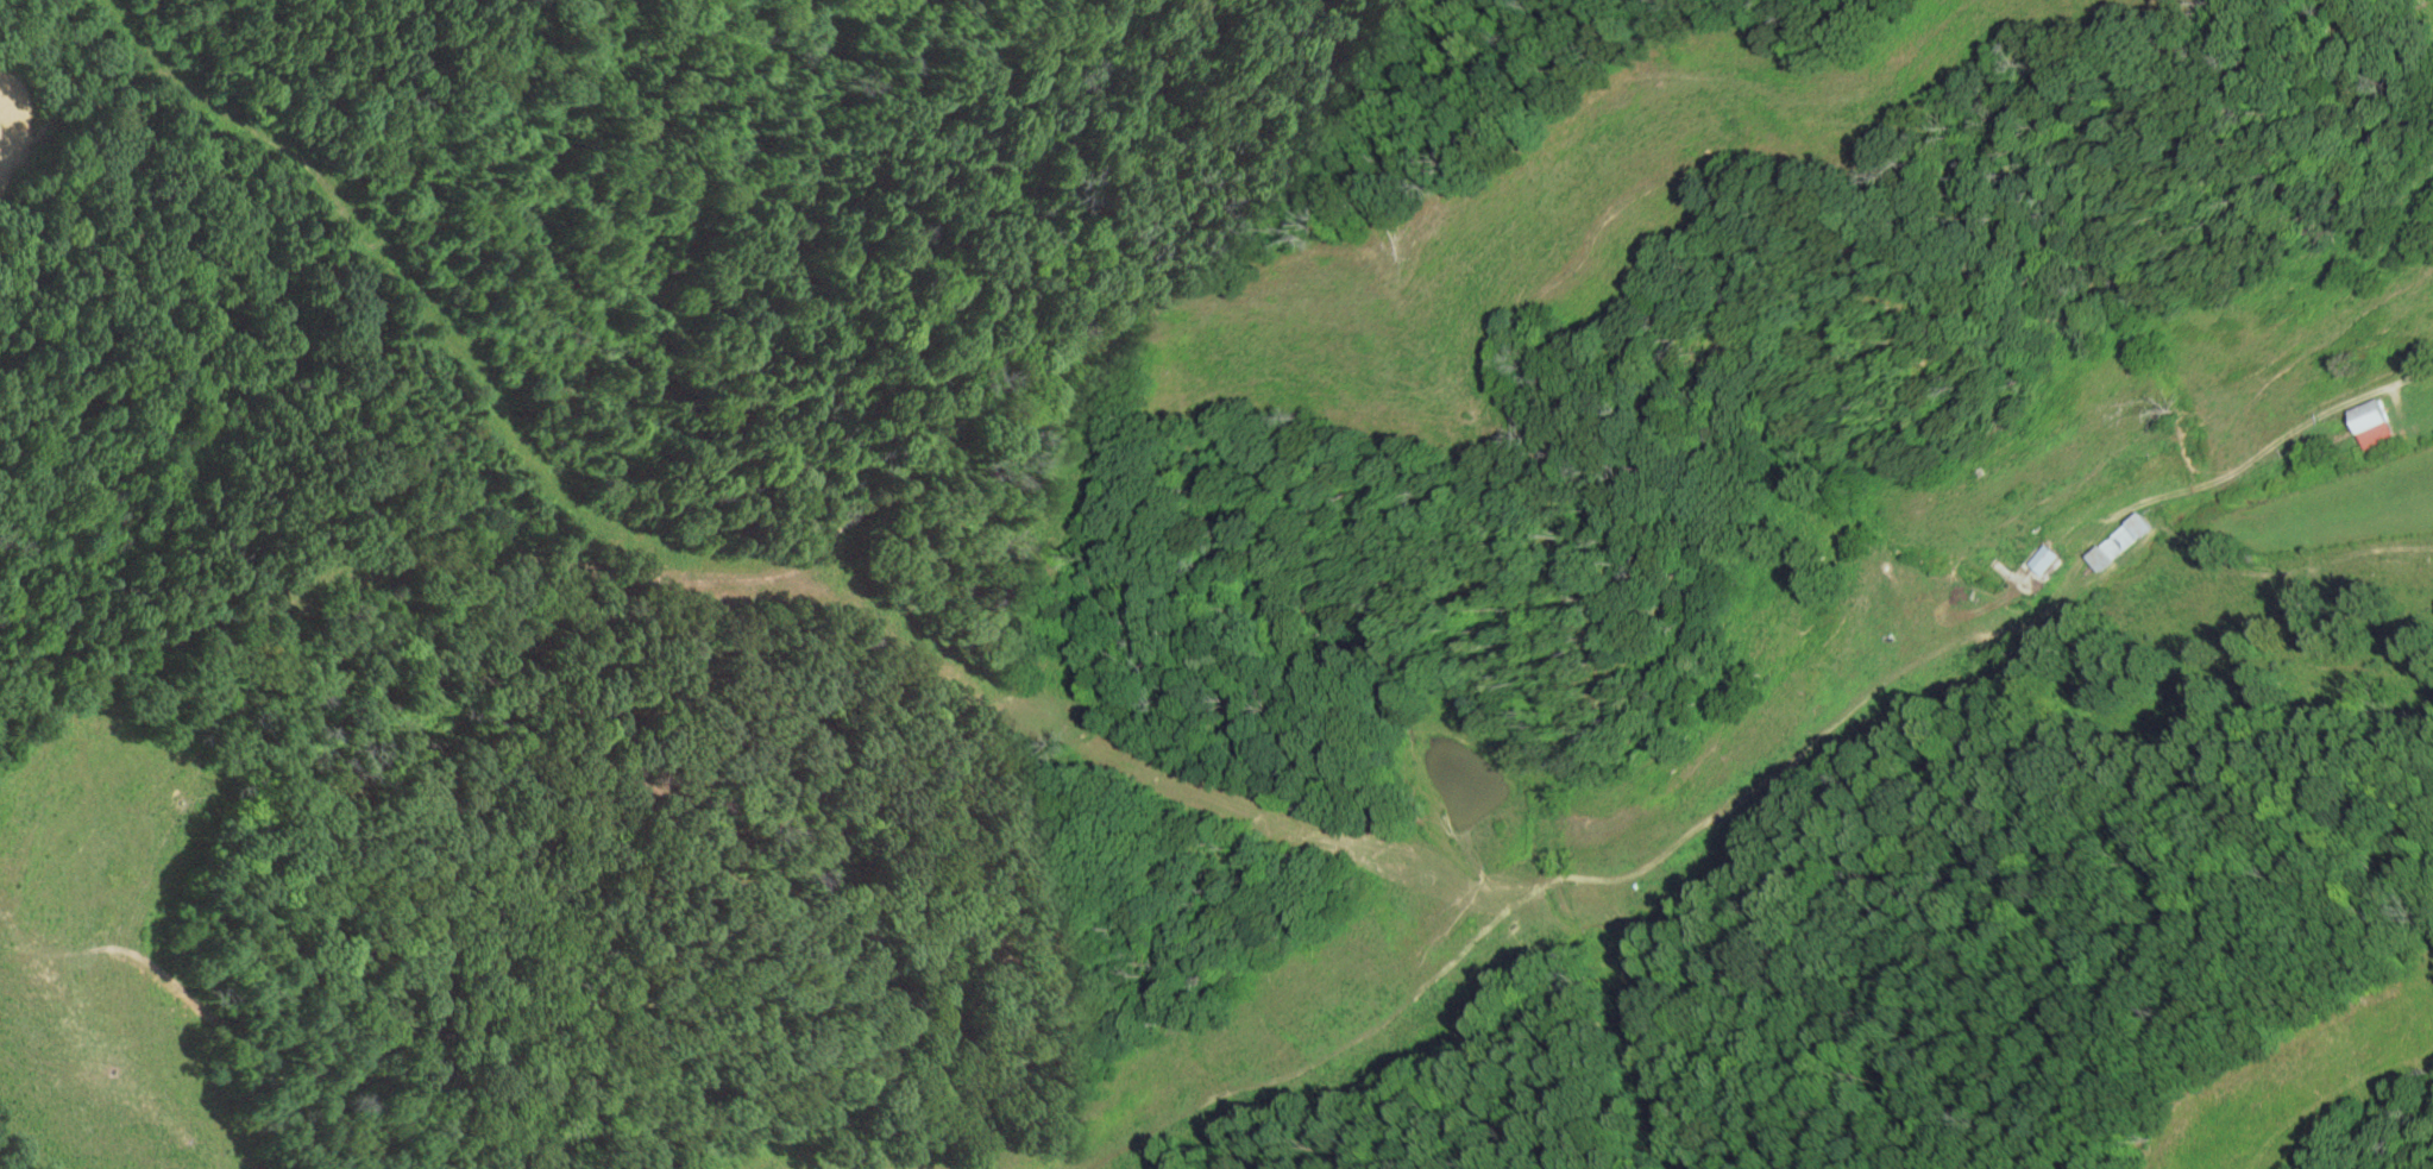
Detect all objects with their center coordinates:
building: (2379, 423)
building: (2126, 541)
building: (2051, 559)
road: (36, 697)

